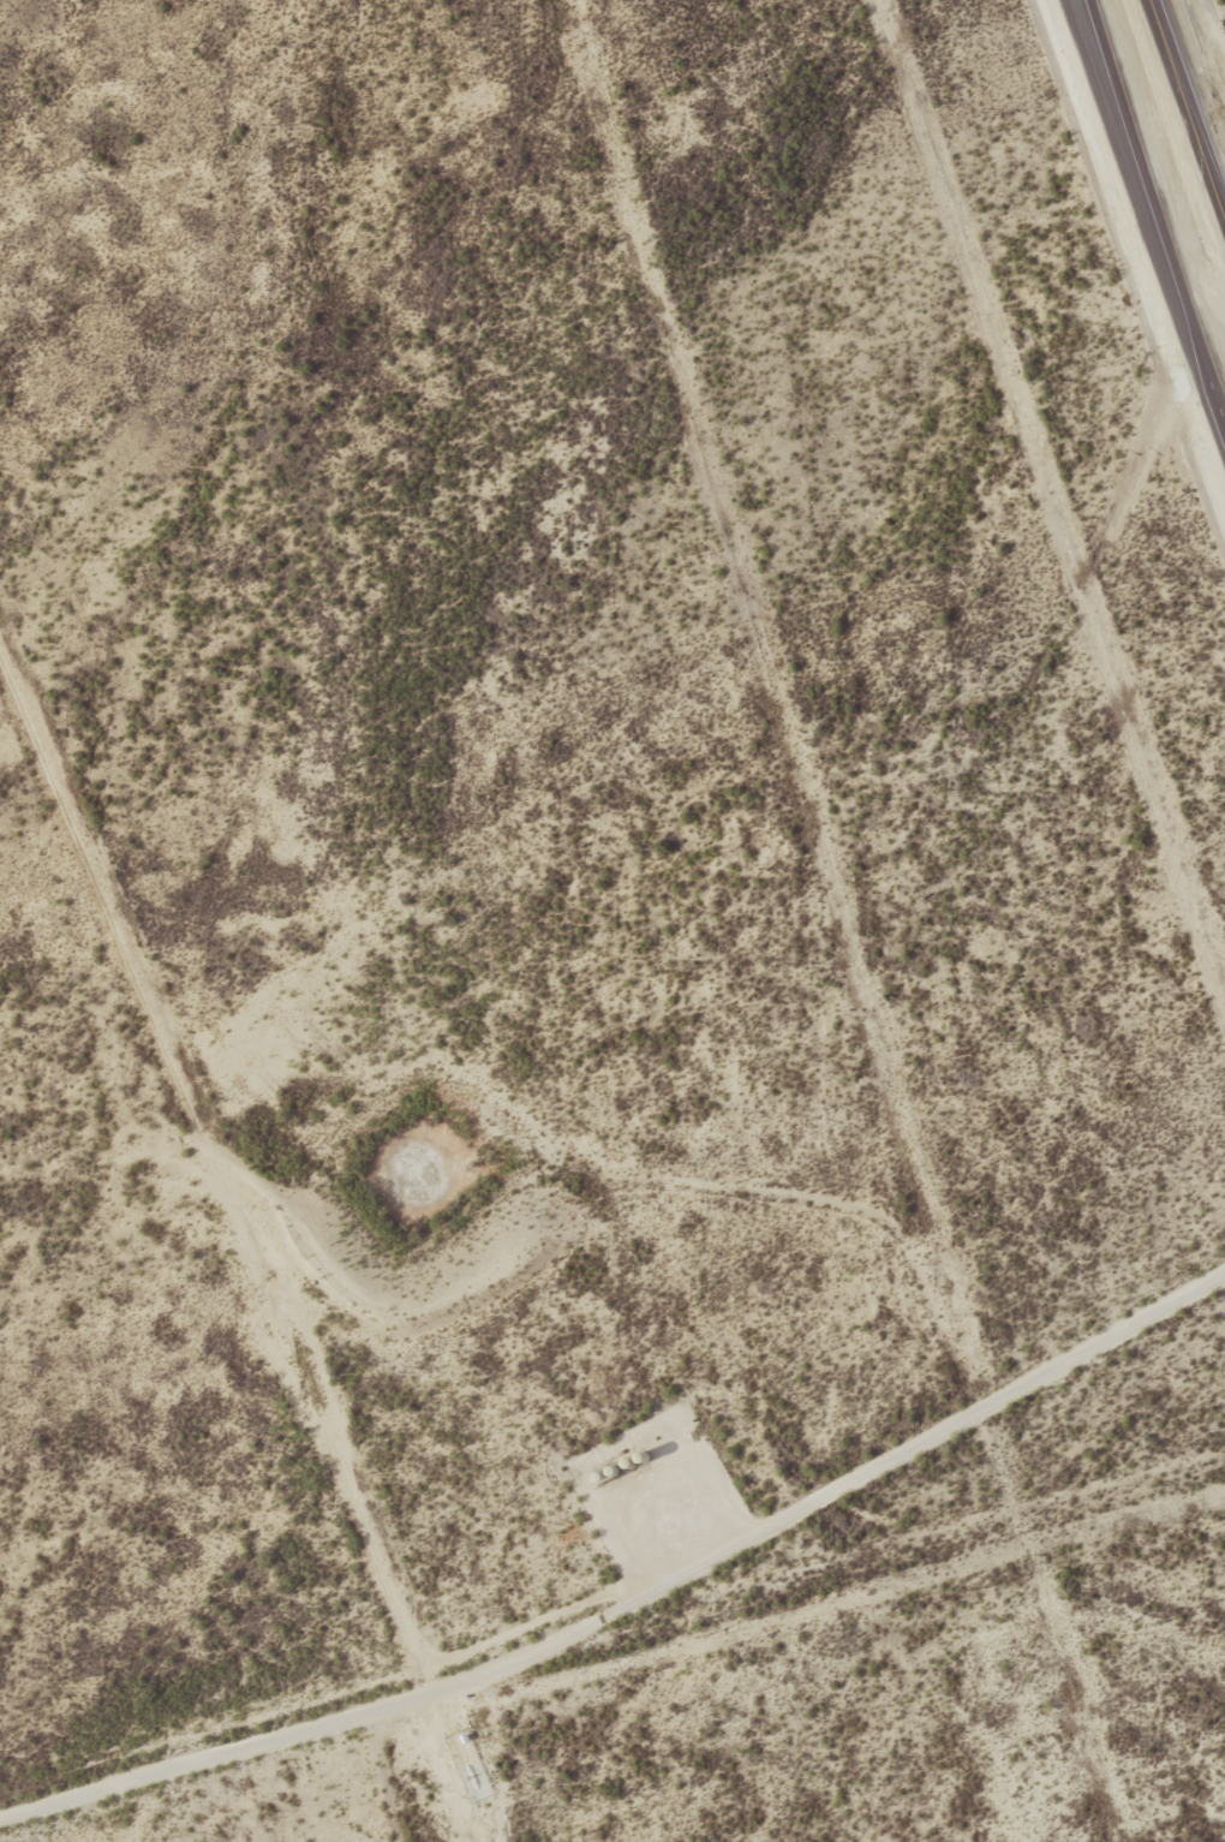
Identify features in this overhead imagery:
road: (1189, 100)
road: (631, 1594)

